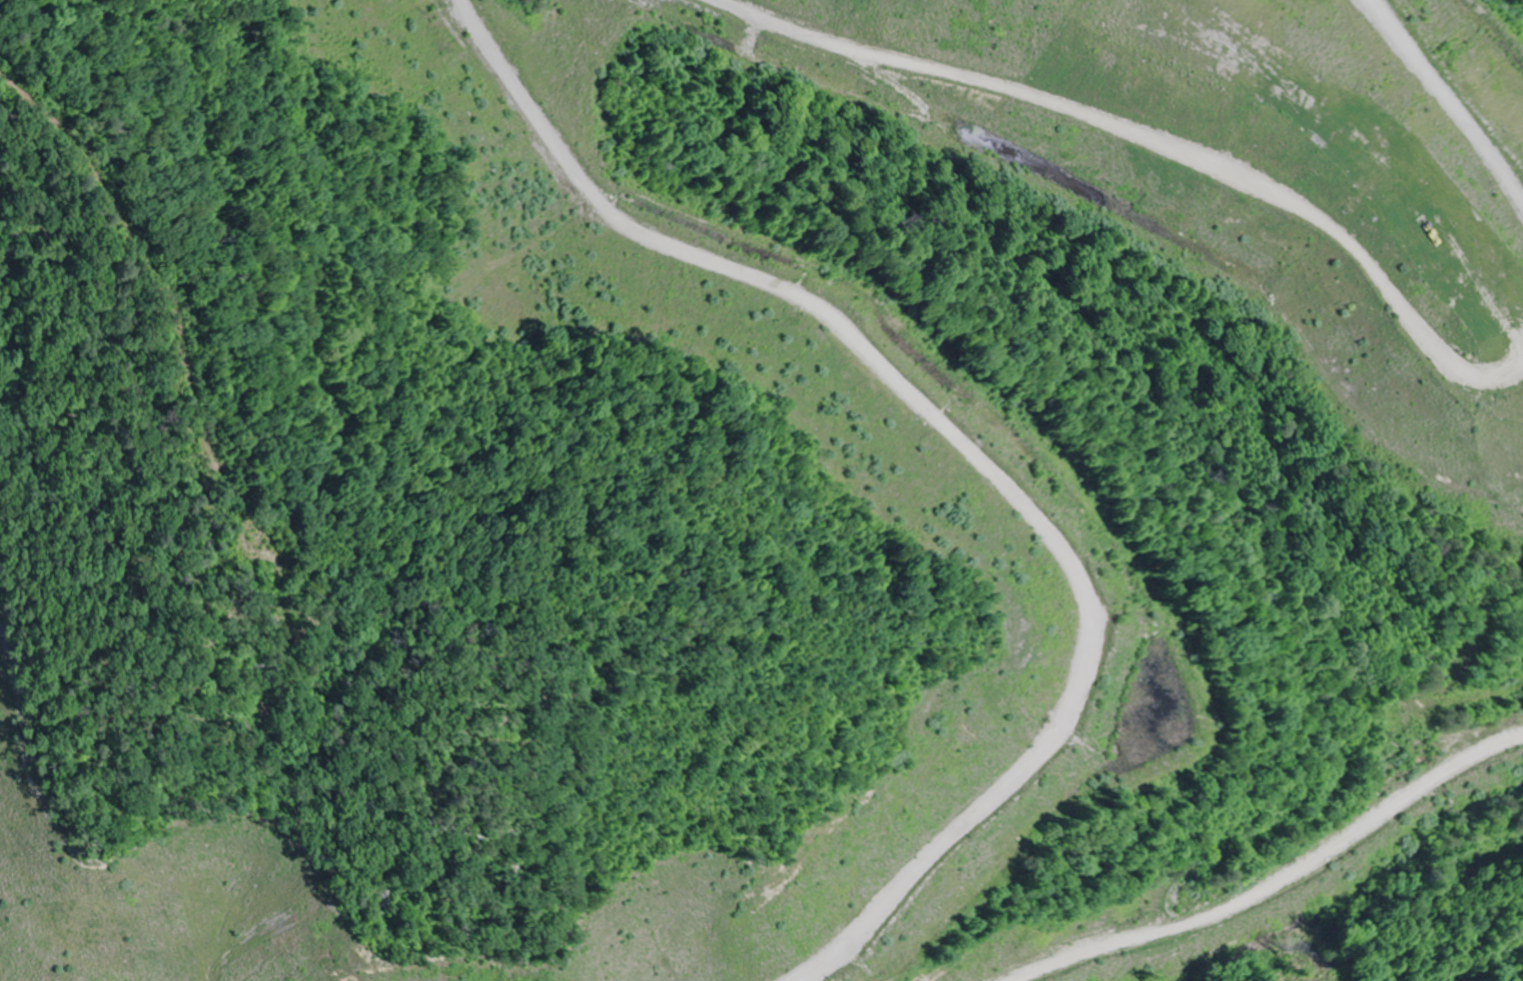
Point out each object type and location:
road: (1334, 870)

